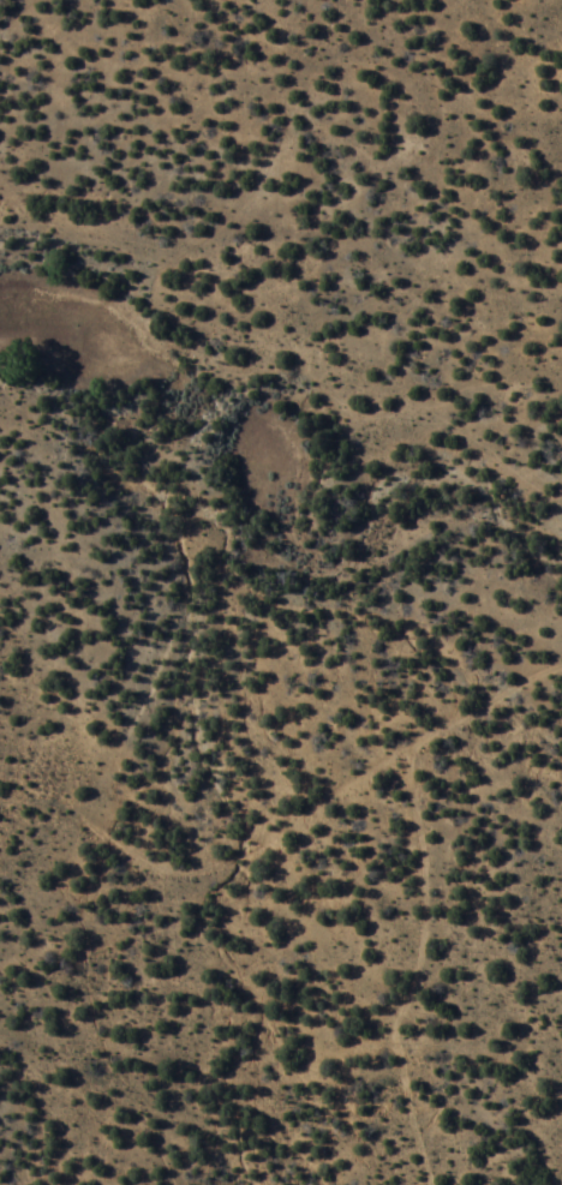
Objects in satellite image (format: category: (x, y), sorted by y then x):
road: (295, 833)

